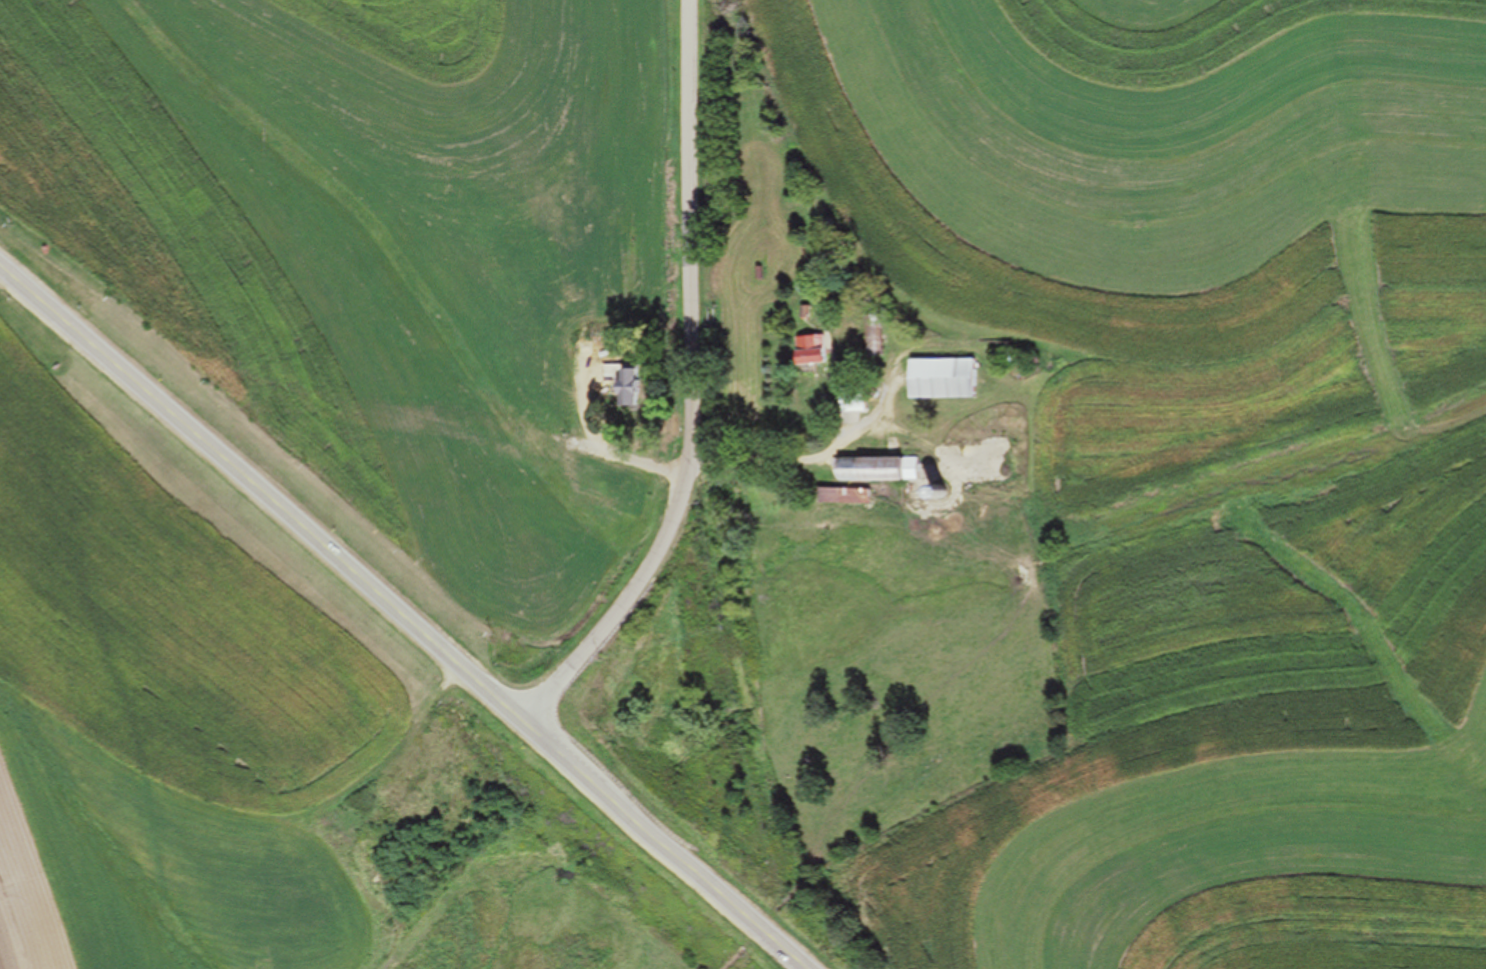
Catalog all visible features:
building: (807, 351)
building: (938, 381)
building: (622, 389)
road: (691, 389)
building: (849, 402)
building: (869, 471)
road: (261, 493)
building: (837, 496)
road: (661, 845)

